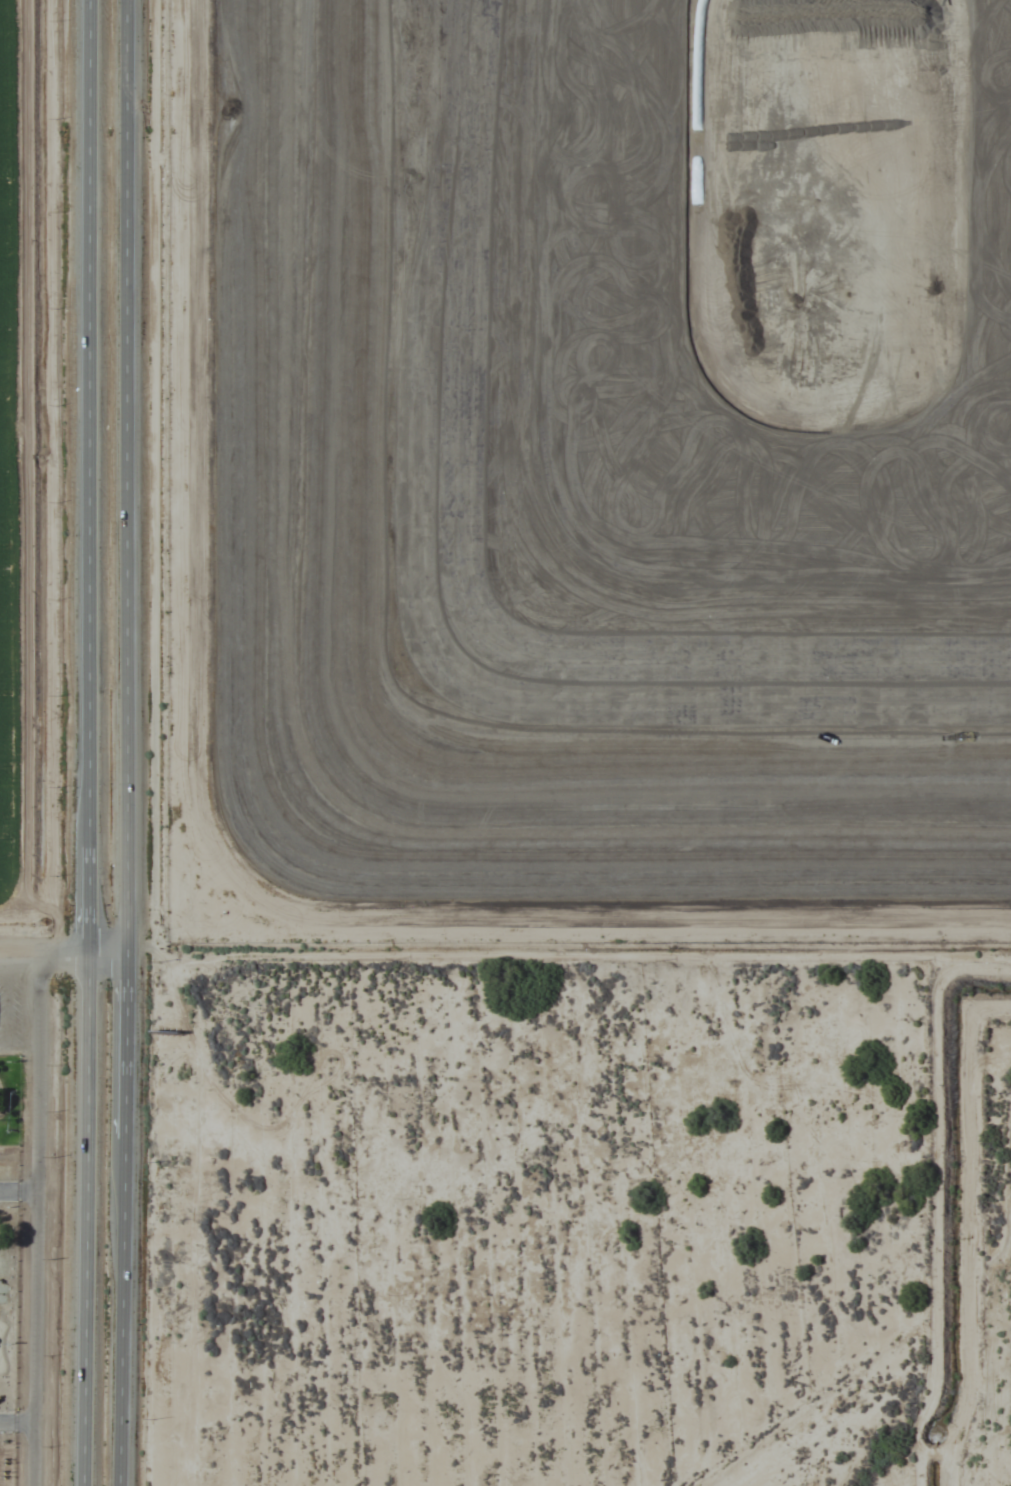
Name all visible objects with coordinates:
road: (82, 743)
road: (120, 743)
road: (60, 953)
road: (37, 1219)

